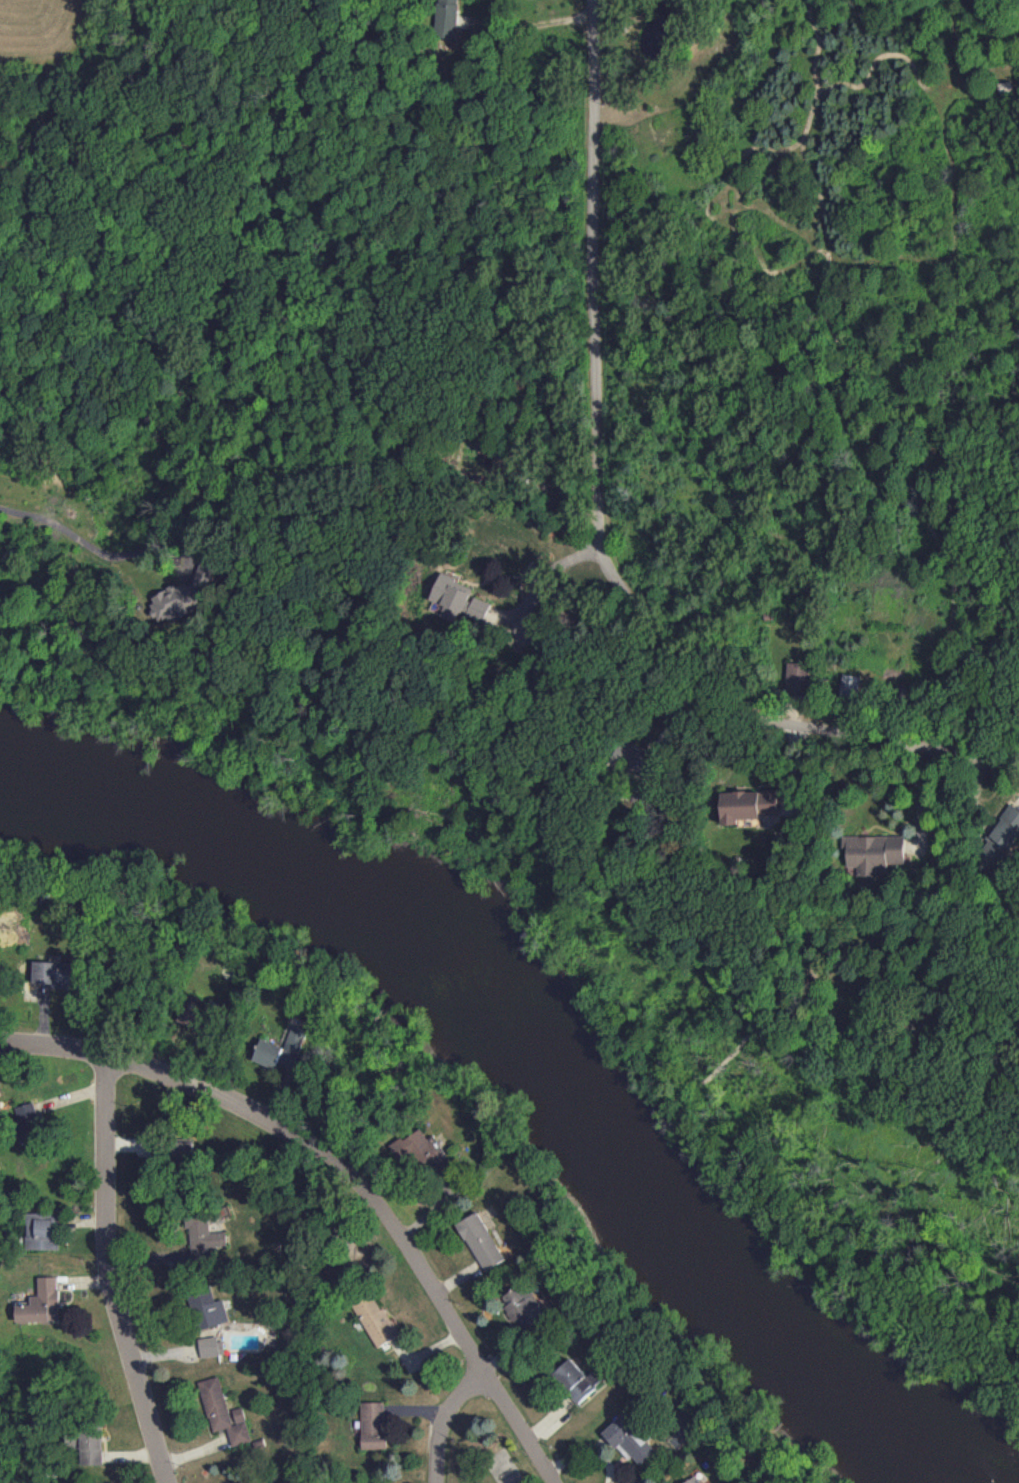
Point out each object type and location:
building: (446, 17)
road: (532, 27)
road: (593, 530)
road: (93, 547)
road: (547, 576)
building: (182, 594)
building: (459, 599)
building: (796, 678)
building: (850, 685)
road: (917, 796)
building: (749, 805)
building: (999, 840)
building: (874, 852)
building: (52, 973)
river: (539, 1056)
building: (27, 1118)
building: (417, 1150)
road: (344, 1171)
building: (43, 1230)
building: (203, 1237)
building: (480, 1241)
road: (108, 1274)
building: (39, 1299)
building: (527, 1307)
building: (208, 1309)
building: (376, 1321)
building: (211, 1346)
building: (576, 1380)
building: (223, 1412)
road: (438, 1421)
building: (373, 1425)
building: (90, 1444)
building: (692, 1480)

